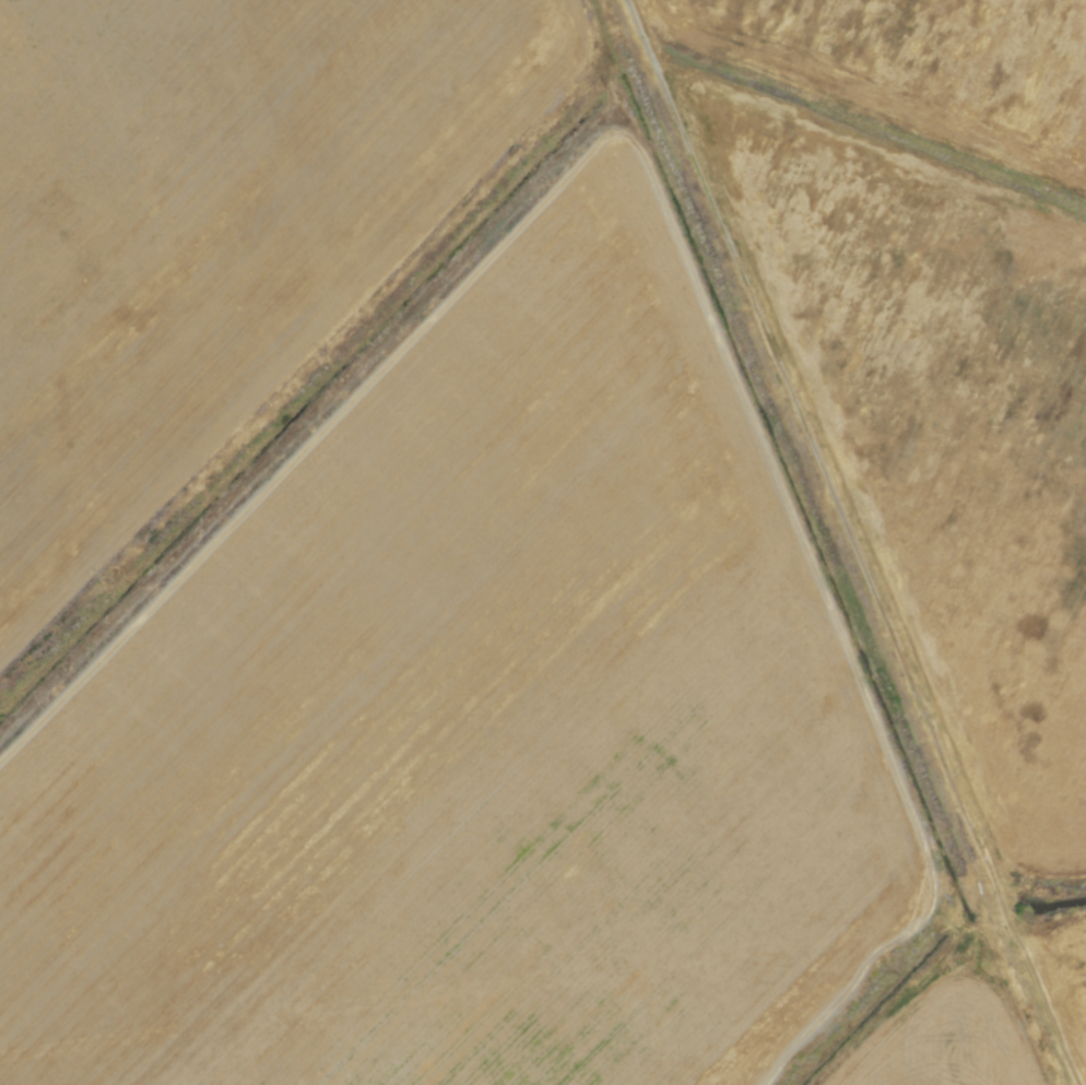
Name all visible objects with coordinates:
crop: (1069, 969)

